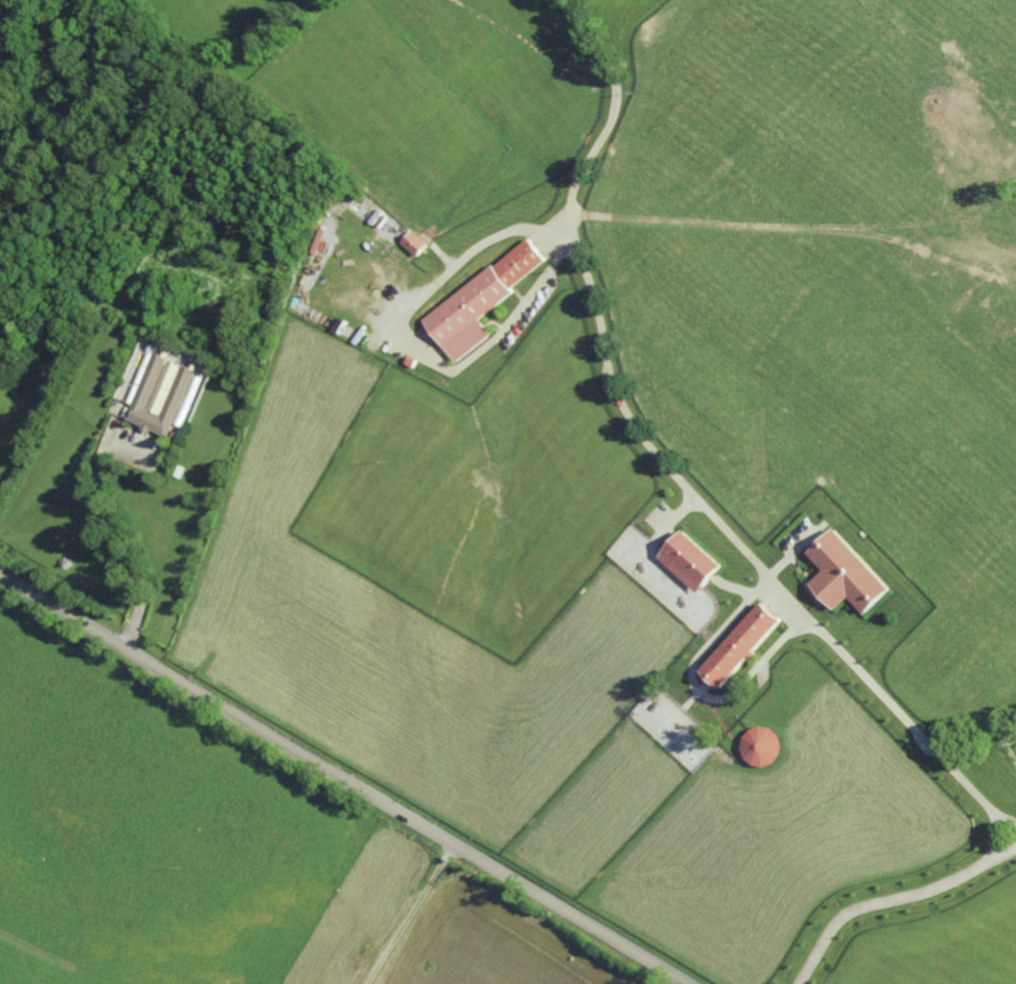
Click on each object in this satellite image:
building: (415, 243)
road: (436, 283)
road: (527, 299)
building: (480, 301)
building: (160, 394)
road: (665, 461)
road: (123, 529)
building: (692, 561)
building: (846, 574)
building: (741, 645)
building: (762, 746)
road: (343, 779)
road: (892, 898)
road: (411, 914)

